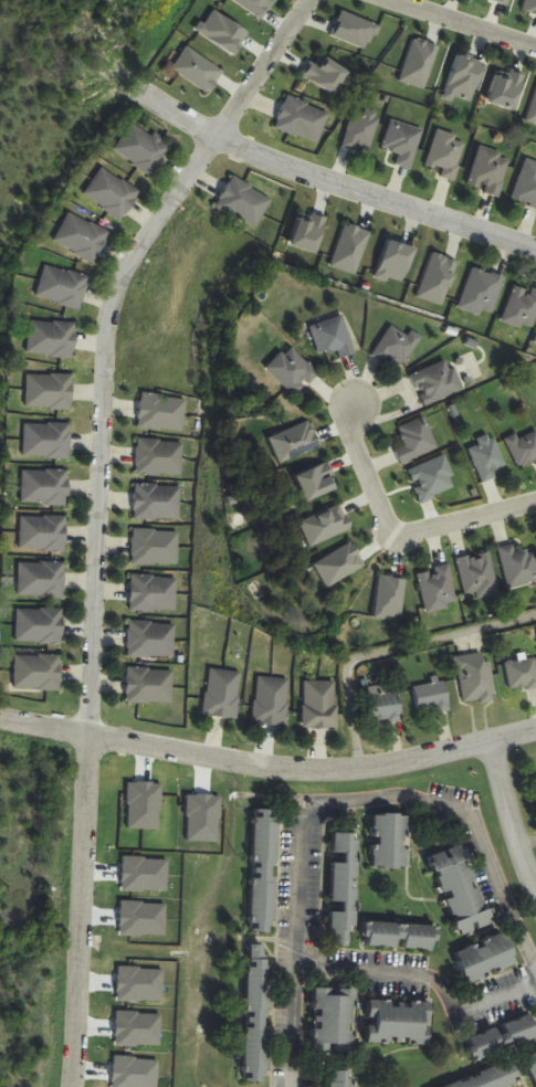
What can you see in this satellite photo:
road: (459, 22)
building: (302, 119)
building: (361, 130)
building: (403, 141)
building: (143, 148)
building: (448, 154)
building: (490, 171)
road: (333, 176)
building: (527, 186)
building: (112, 193)
building: (243, 202)
building: (82, 236)
building: (63, 287)
building: (482, 293)
building: (522, 308)
building: (333, 337)
building: (52, 338)
building: (397, 346)
building: (292, 371)
building: (438, 382)
building: (49, 391)
building: (161, 412)
building: (46, 441)
building: (416, 441)
building: (524, 448)
building: (158, 457)
building: (486, 458)
building: (432, 479)
building: (45, 487)
building: (157, 503)
road: (99, 514)
building: (43, 534)
road: (397, 535)
building: (155, 547)
building: (518, 566)
building: (477, 576)
building: (41, 580)
building: (438, 589)
building: (153, 593)
building: (40, 626)
building: (150, 640)
building: (38, 673)
building: (522, 675)
building: (474, 678)
building: (149, 686)
building: (222, 694)
building: (431, 697)
building: (271, 700)
building: (319, 705)
building: (383, 705)
road: (513, 741)
road: (244, 767)
road: (332, 800)
road: (506, 826)
building: (389, 841)
building: (264, 872)
building: (461, 889)
building: (343, 890)
building: (400, 936)
building: (485, 958)
road: (425, 978)
building: (258, 1013)
building: (334, 1021)
building: (399, 1023)
building: (502, 1037)
building: (533, 1062)
building: (491, 1077)
building: (340, 1078)

